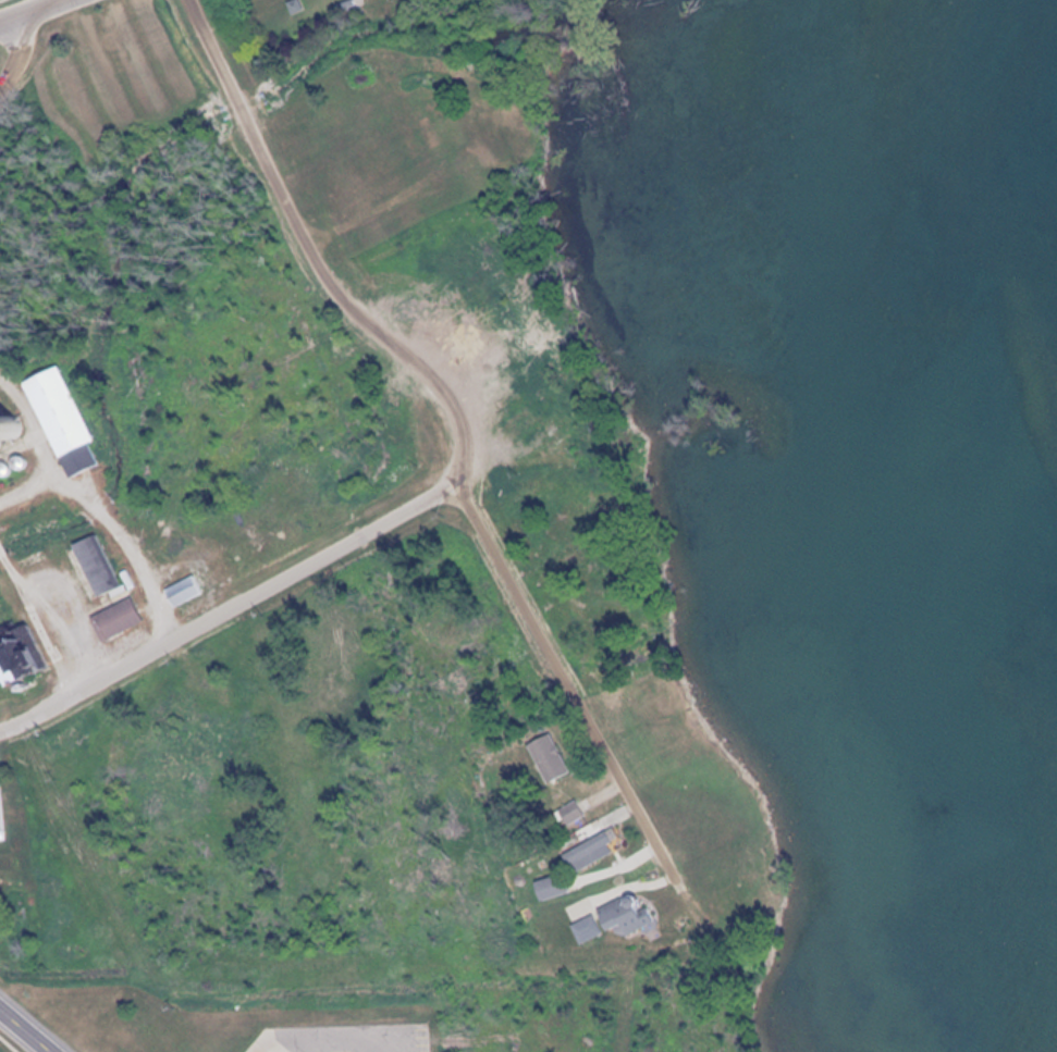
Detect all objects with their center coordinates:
park: (3, 1)
road: (32, 12)
road: (20, 55)
road: (320, 270)
building: (62, 420)
building: (11, 426)
building: (97, 565)
building: (186, 591)
road: (226, 607)
building: (118, 619)
building: (19, 647)
road: (567, 680)
building: (550, 757)
building: (573, 814)
building: (590, 852)
building: (554, 887)
building: (614, 919)
road: (25, 1030)

